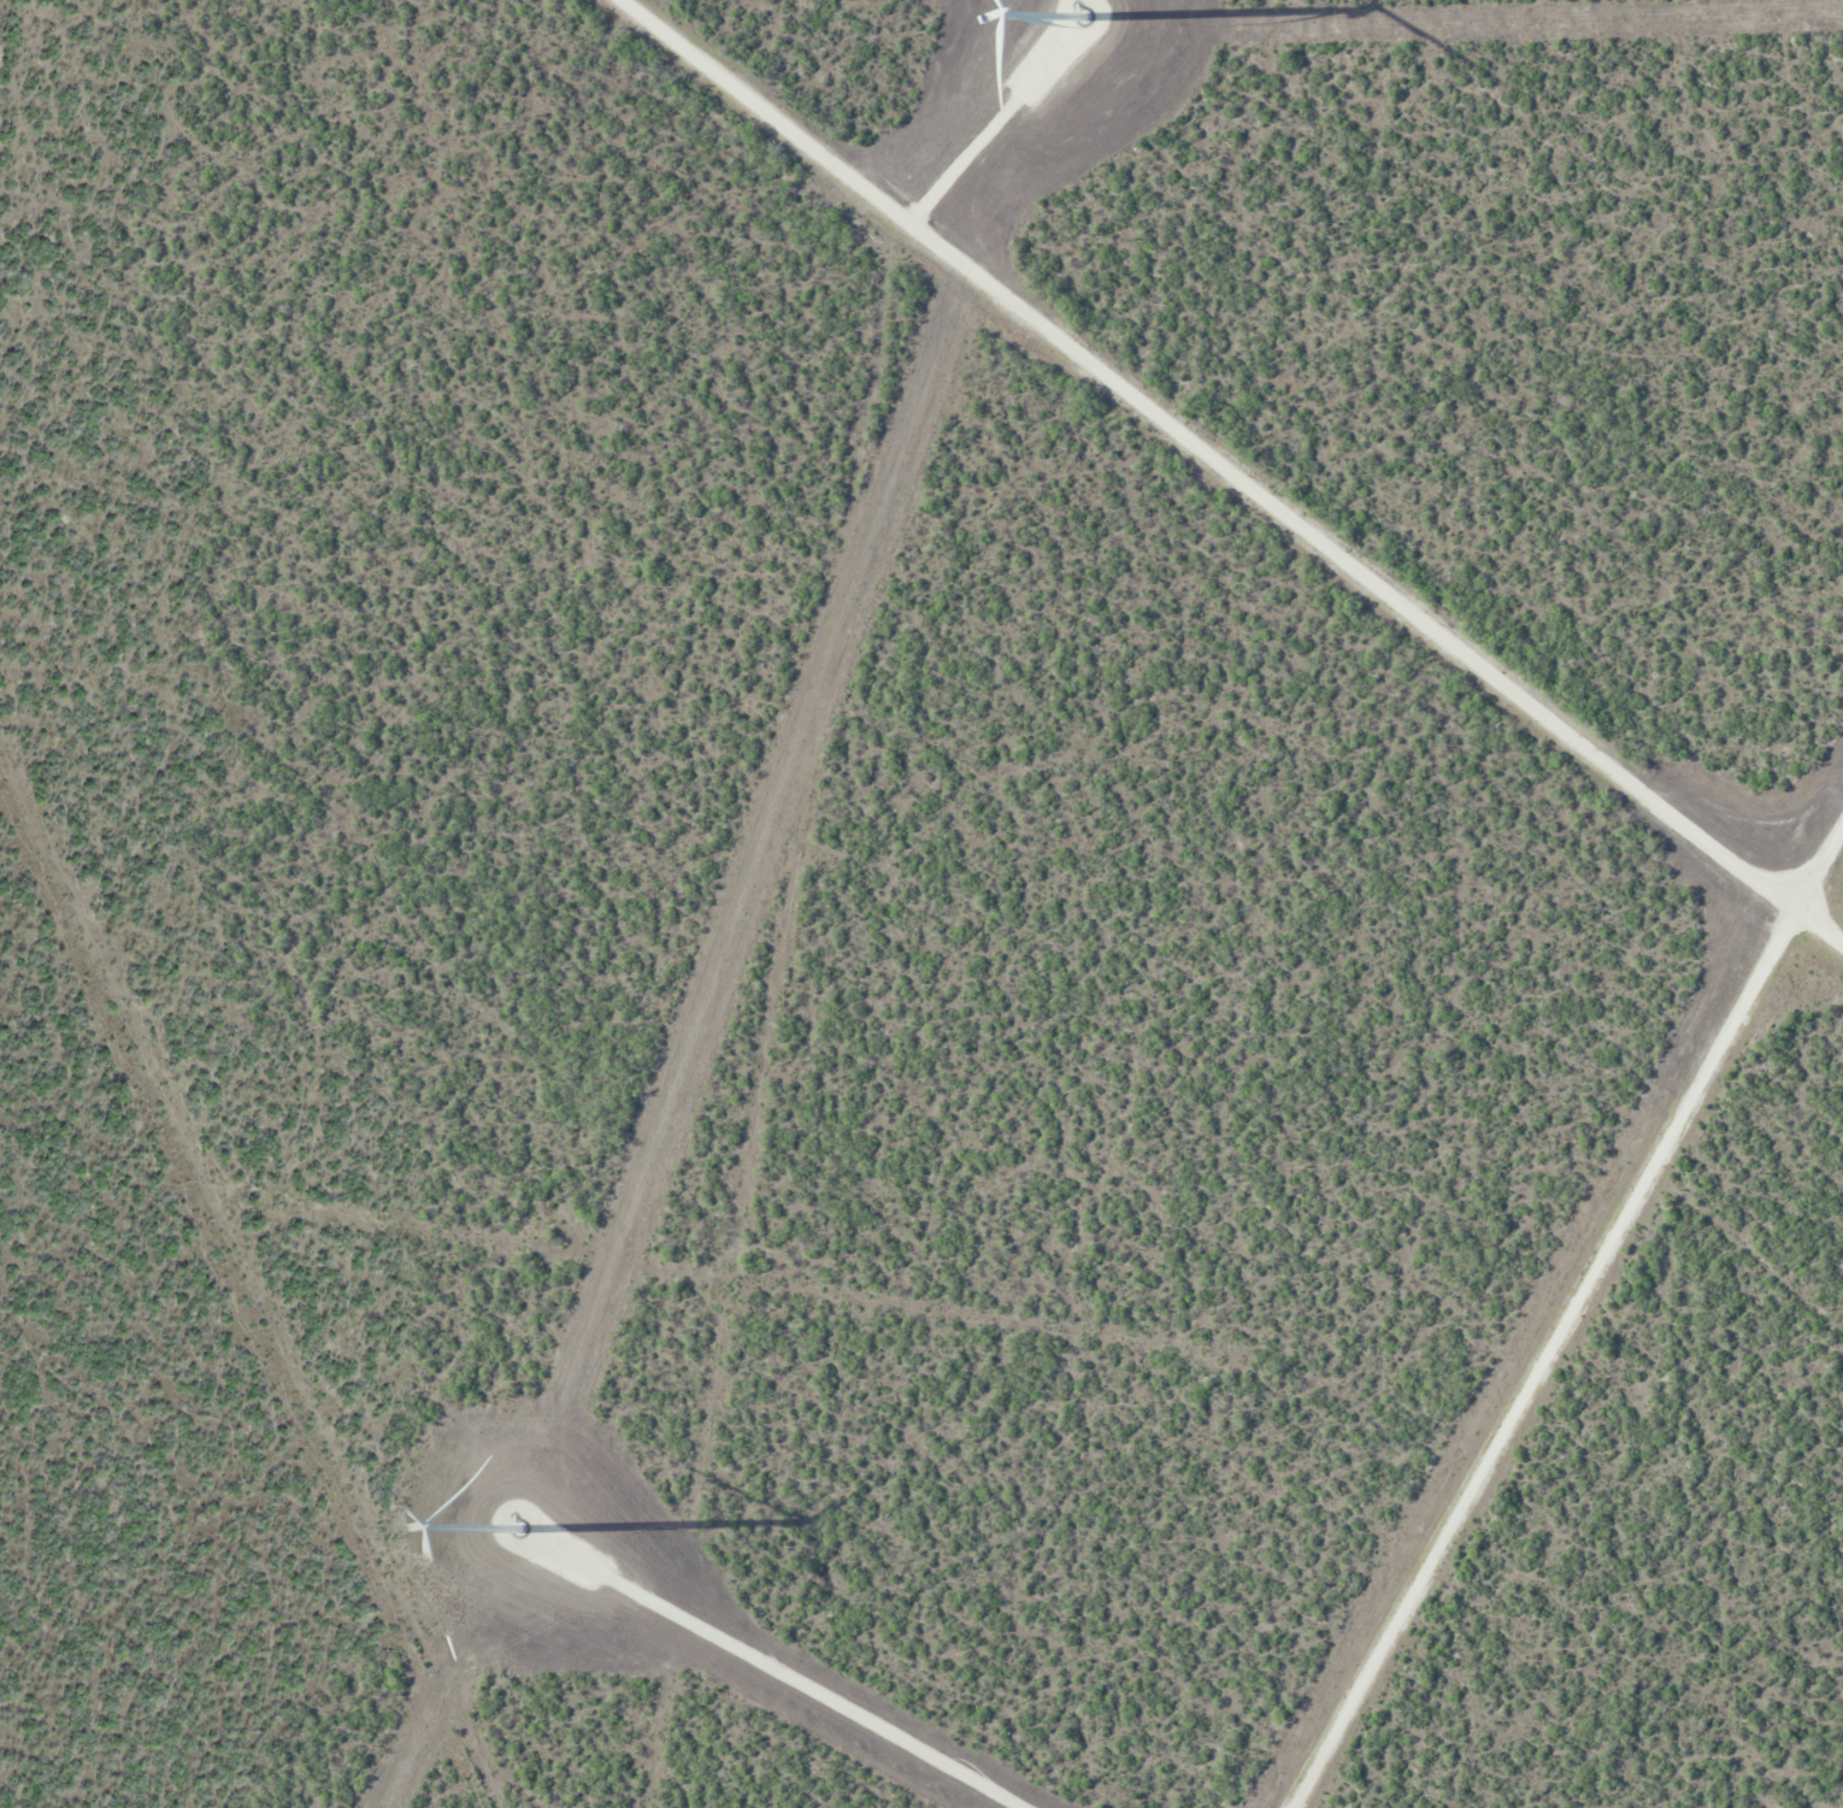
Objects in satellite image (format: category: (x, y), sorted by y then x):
wind turbine: (1078, 4)
road: (1182, 500)
road: (1829, 944)
wind turbine: (512, 1506)

